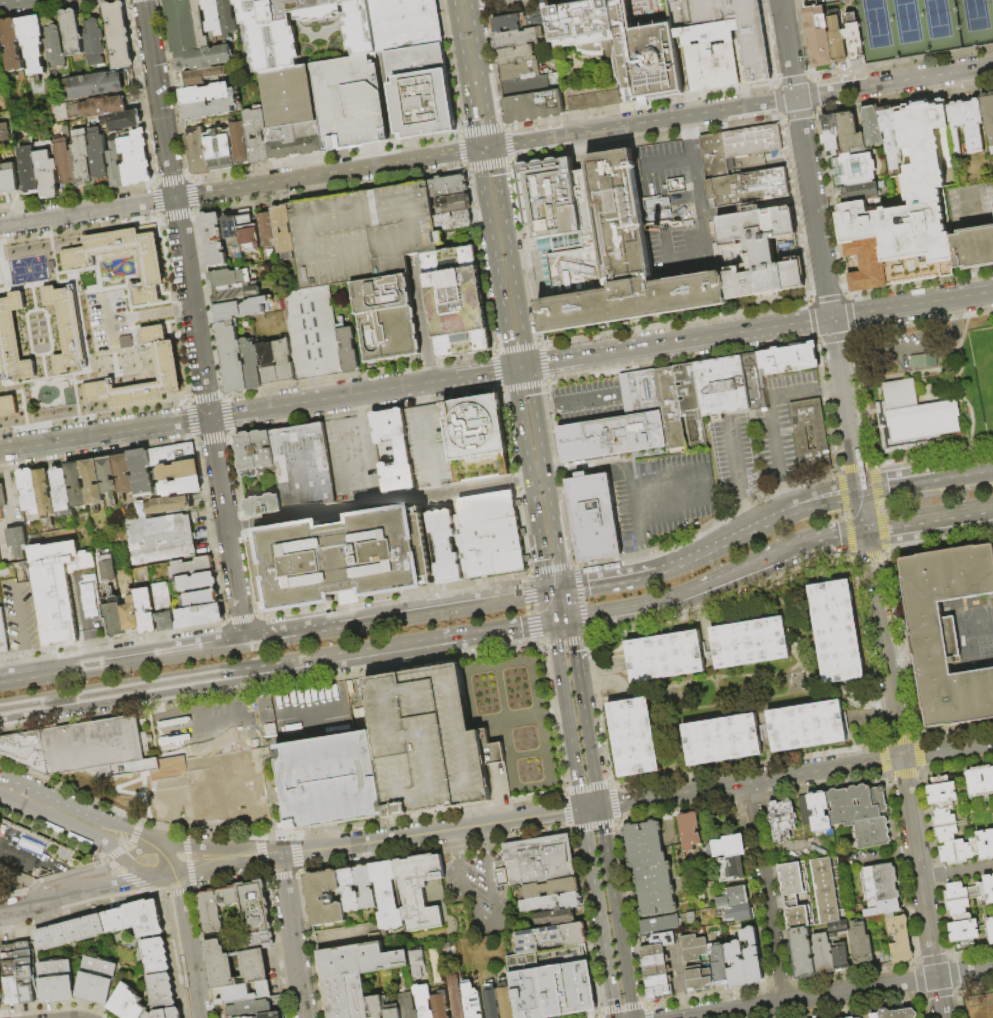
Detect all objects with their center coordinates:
road: (3, 0)
road: (494, 1)
building: (807, 3)
road: (478, 4)
building: (221, 17)
building: (521, 21)
building: (405, 23)
building: (186, 25)
building: (584, 25)
park: (925, 27)
building: (71, 32)
building: (118, 35)
building: (854, 37)
building: (518, 38)
building: (819, 38)
building: (273, 39)
building: (837, 41)
building: (32, 42)
building: (92, 42)
building: (11, 44)
building: (53, 47)
building: (517, 55)
building: (756, 55)
building: (205, 59)
building: (712, 66)
building: (520, 71)
road: (481, 73)
road: (464, 74)
building: (202, 76)
park: (1, 81)
building: (95, 85)
building: (525, 86)
building: (421, 92)
building: (206, 94)
building: (593, 96)
road: (158, 99)
parking lot: (355, 101)
road: (743, 106)
building: (102, 107)
building: (534, 107)
building: (209, 109)
building: (292, 114)
building: (988, 115)
building: (122, 120)
building: (872, 125)
building: (967, 126)
building: (4, 132)
building: (850, 134)
building: (831, 135)
building: (257, 137)
building: (892, 137)
building: (753, 142)
building: (240, 143)
traffic signals: (493, 147)
traffic signals: (477, 149)
building: (220, 150)
building: (197, 151)
building: (97, 156)
building: (81, 157)
building: (714, 157)
building: (135, 158)
road: (666, 159)
building: (65, 162)
building: (114, 164)
building: (732, 165)
building: (855, 169)
building: (28, 170)
road: (333, 172)
building: (47, 174)
road: (481, 175)
building: (8, 180)
road: (695, 183)
building: (448, 186)
building: (749, 188)
building: (860, 192)
building: (992, 193)
building: (554, 198)
building: (453, 204)
building: (748, 206)
road: (87, 212)
building: (904, 213)
building: (453, 221)
building: (267, 229)
building: (284, 229)
building: (250, 234)
building: (363, 234)
parking lot: (363, 234)
building: (234, 235)
building: (441, 238)
building: (213, 240)
road: (690, 242)
road: (819, 245)
building: (973, 249)
building: (759, 252)
road: (677, 254)
building: (79, 259)
building: (612, 261)
building: (232, 278)
building: (235, 293)
building: (147, 295)
building: (456, 302)
building: (240, 309)
road: (161, 312)
road: (119, 318)
road: (422, 318)
traffic signals: (831, 318)
building: (387, 319)
road: (954, 327)
building: (68, 329)
building: (313, 334)
building: (12, 340)
building: (348, 350)
road: (910, 351)
building: (232, 358)
building: (789, 359)
building: (921, 360)
building: (285, 362)
building: (167, 364)
building: (269, 364)
building: (252, 365)
traffic signals: (528, 366)
road: (528, 368)
traffic signals: (512, 369)
road: (496, 371)
road: (895, 375)
building: (754, 382)
road: (954, 385)
road: (831, 386)
building: (722, 387)
road: (516, 396)
road: (588, 399)
building: (691, 405)
road: (546, 406)
building: (7, 407)
building: (670, 409)
road: (770, 412)
road: (362, 414)
building: (912, 416)
traffic signals: (209, 418)
road: (209, 419)
building: (620, 424)
building: (811, 436)
building: (477, 438)
road: (429, 444)
building: (402, 453)
building: (256, 454)
road: (352, 454)
building: (172, 455)
road: (735, 455)
road: (595, 460)
building: (303, 466)
parking lot: (704, 466)
building: (179, 471)
road: (537, 473)
building: (142, 474)
road: (669, 474)
building: (124, 475)
building: (108, 476)
road: (958, 476)
building: (92, 483)
building: (76, 484)
road: (710, 484)
building: (181, 487)
road: (891, 487)
road: (436, 488)
building: (29, 491)
building: (61, 492)
road: (786, 492)
traffic signals: (859, 492)
building: (44, 495)
road: (634, 497)
road: (822, 499)
building: (2, 501)
road: (378, 503)
building: (518, 504)
building: (170, 505)
building: (265, 505)
road: (662, 508)
road: (744, 509)
building: (141, 510)
road: (862, 512)
building: (593, 516)
road: (767, 518)
road: (929, 522)
building: (523, 533)
traffic signals: (865, 533)
building: (491, 535)
building: (161, 538)
building: (17, 542)
building: (445, 547)
road: (643, 556)
building: (344, 560)
building: (527, 560)
road: (674, 565)
building: (108, 567)
building: (190, 568)
road: (742, 573)
building: (196, 582)
road: (578, 585)
building: (57, 588)
traffic signals: (564, 589)
road: (556, 590)
traffic signals: (548, 591)
building: (201, 599)
road: (566, 604)
road: (83, 607)
road: (550, 607)
building: (163, 608)
building: (145, 611)
park: (992, 612)
building: (130, 615)
parking lot: (18, 616)
road: (19, 616)
building: (200, 616)
road: (594, 616)
building: (114, 620)
traffic signals: (569, 620)
road: (560, 621)
traffic signals: (552, 623)
building: (835, 630)
building: (946, 631)
building: (3, 635)
road: (274, 635)
building: (748, 643)
road: (573, 648)
road: (90, 651)
building: (663, 657)
road: (27, 662)
road: (276, 667)
road: (285, 714)
road: (566, 716)
road: (234, 718)
building: (805, 726)
building: (632, 737)
building: (428, 740)
building: (719, 740)
road: (588, 741)
building: (83, 748)
road: (795, 774)
road: (904, 775)
building: (331, 781)
building: (980, 781)
building: (939, 792)
road: (132, 793)
road: (49, 795)
building: (856, 804)
traffic signals: (599, 806)
road: (590, 807)
traffic signals: (581, 809)
building: (803, 810)
building: (819, 812)
road: (530, 817)
building: (781, 820)
building: (943, 824)
road: (129, 830)
building: (689, 830)
building: (871, 833)
road: (87, 835)
road: (482, 839)
road: (379, 840)
road: (456, 843)
building: (643, 844)
building: (982, 844)
road: (200, 847)
building: (953, 851)
building: (33, 853)
building: (728, 855)
road: (36, 857)
building: (540, 860)
road: (166, 862)
road: (225, 869)
road: (957, 872)
building: (992, 874)
road: (81, 875)
road: (19, 878)
building: (792, 883)
road: (70, 887)
road: (106, 887)
building: (365, 887)
road: (489, 888)
building: (551, 888)
building: (654, 889)
building: (879, 889)
building: (982, 889)
building: (349, 890)
building: (827, 890)
building: (421, 891)
road: (463, 892)
road: (765, 892)
road: (40, 895)
building: (387, 896)
building: (324, 898)
building: (732, 898)
building: (954, 898)
building: (551, 903)
road: (21, 908)
road: (615, 912)
road: (598, 913)
building: (739, 913)
building: (256, 915)
building: (556, 918)
building: (798, 918)
road: (486, 924)
building: (660, 924)
building: (104, 926)
building: (837, 928)
building: (962, 929)
building: (989, 929)
road: (292, 937)
building: (341, 937)
building: (551, 937)
building: (899, 937)
building: (661, 939)
building: (860, 943)
road: (187, 947)
building: (692, 948)
building: (652, 951)
building: (801, 954)
building: (822, 954)
building: (155, 955)
building: (840, 956)
building: (750, 957)
building: (360, 959)
power substation: (360, 959)
building: (24, 960)
building: (654, 961)
building: (419, 964)
building: (735, 965)
building: (220, 966)
building: (719, 966)
building: (101, 968)
building: (56, 969)
building: (256, 971)
building: (656, 971)
building: (12, 975)
building: (697, 979)
building: (658, 981)
building: (96, 988)
building: (566, 988)
building: (58, 989)
building: (161, 991)
building: (659, 992)
building: (28, 993)
road: (840, 993)
building: (237, 994)
building: (529, 994)
building: (346, 997)
power substation: (346, 997)
building: (456, 997)
road: (969, 999)
building: (423, 1000)
building: (472, 1001)
building: (506, 1001)
building: (492, 1002)
building: (0, 1003)
building: (128, 1003)
building: (440, 1004)
building: (407, 1005)
building: (376, 1006)
building: (393, 1011)
building: (165, 1014)
building: (896, 1014)
building: (271, 1015)
building: (247, 1017)
building: (254, 1017)
building: (852, 1017)

